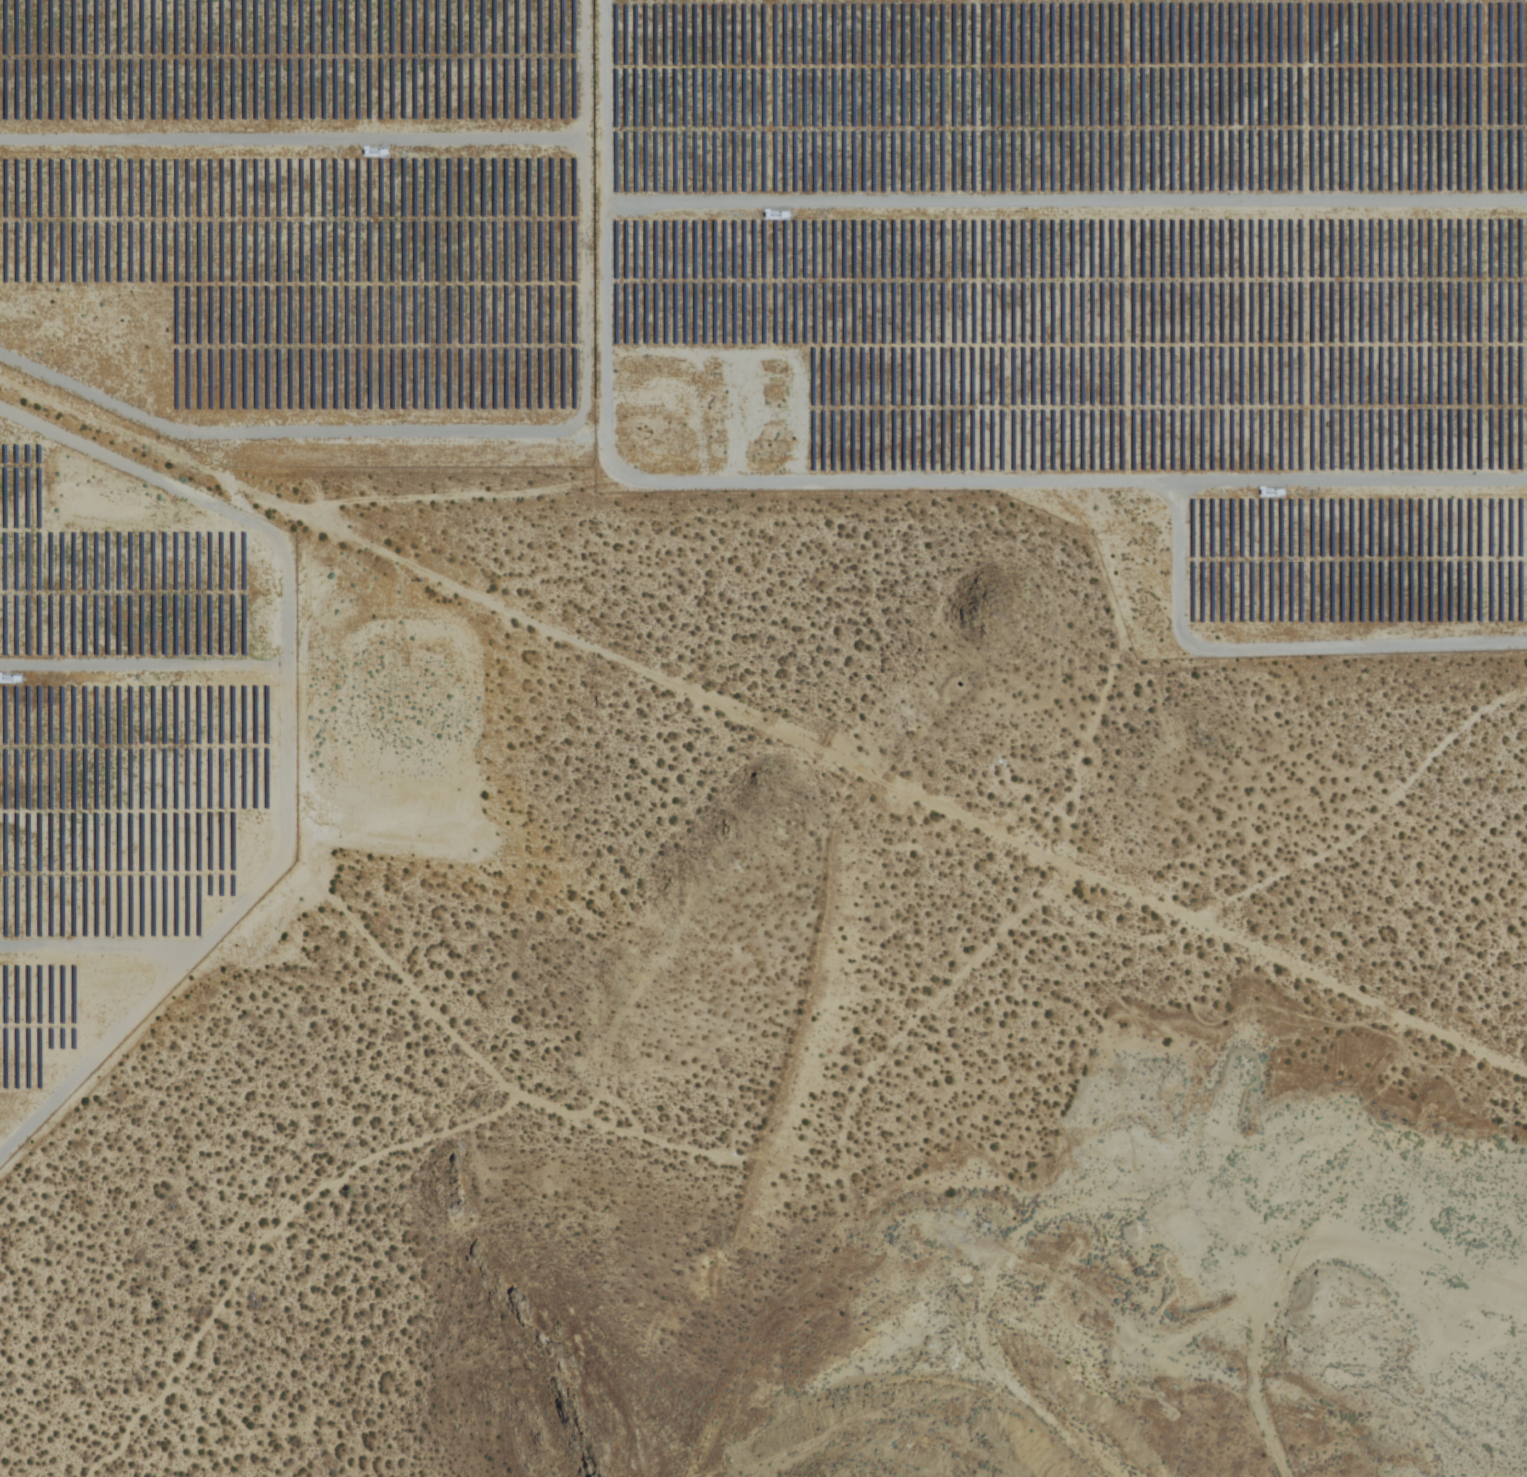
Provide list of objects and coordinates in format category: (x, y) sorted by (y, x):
solar farm: (303, 221)
solar farm: (1091, 285)
solar farm: (125, 736)
road: (1298, 1254)

